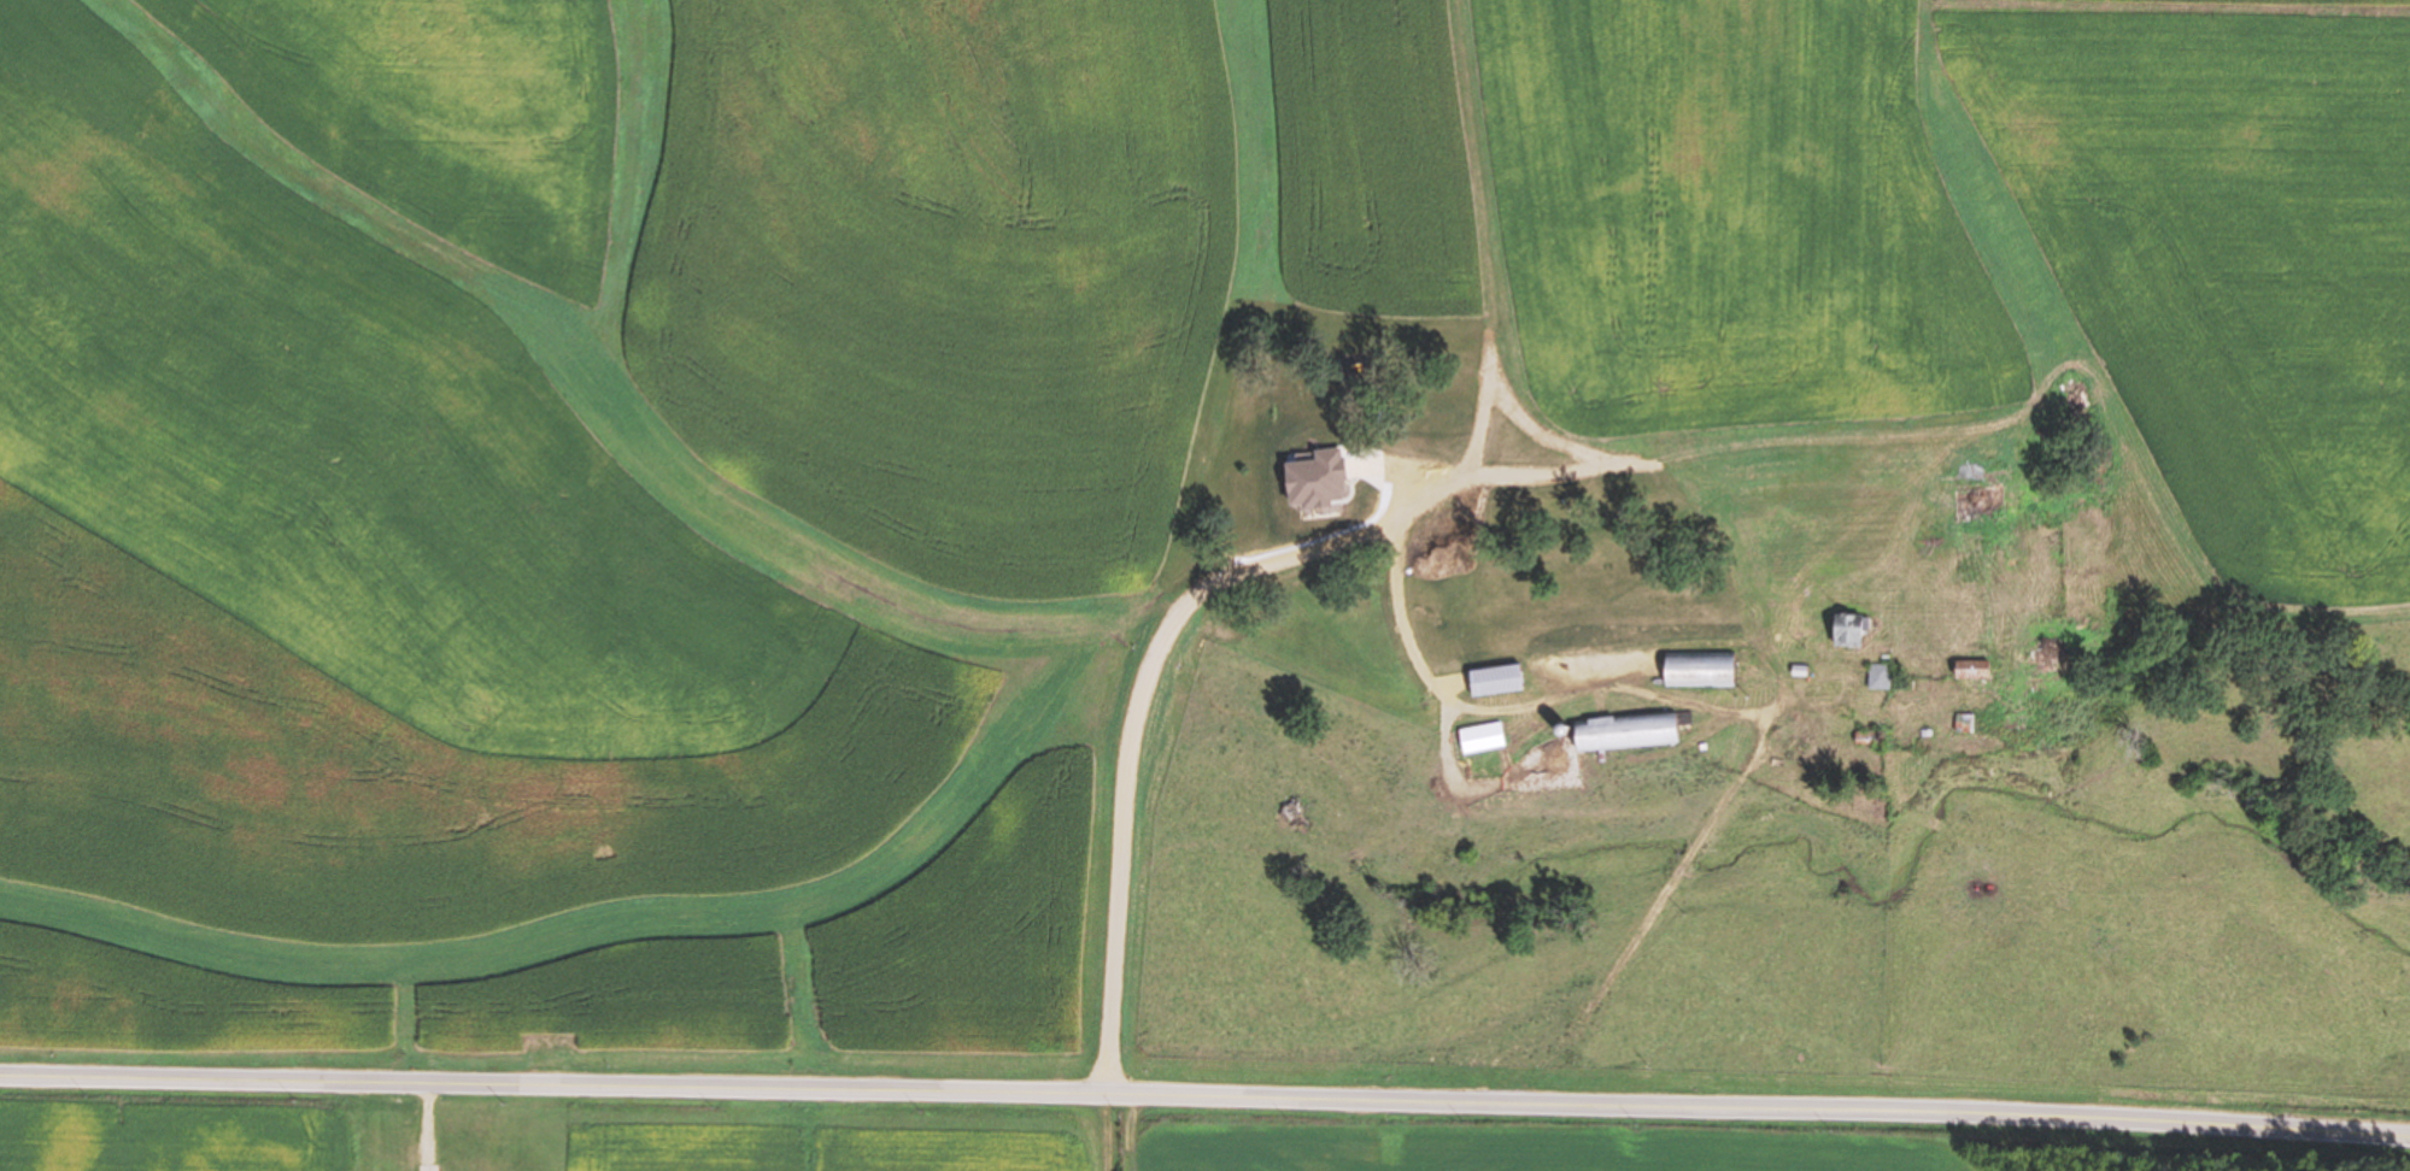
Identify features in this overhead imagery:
road: (1460, 434)
building: (1977, 506)
building: (1418, 614)
building: (1433, 618)
building: (1846, 629)
building: (2048, 652)
building: (1595, 653)
building: (1969, 667)
building: (1699, 670)
building: (1798, 670)
road: (1772, 676)
building: (1877, 676)
building: (1496, 679)
road: (1851, 683)
building: (2011, 722)
building: (1962, 723)
building: (1564, 731)
building: (1626, 732)
building: (1480, 736)
building: (1865, 737)
building: (1800, 749)
building: (1877, 799)
road: (1704, 837)
road: (1204, 1096)
road: (434, 1128)
road: (1109, 1132)

